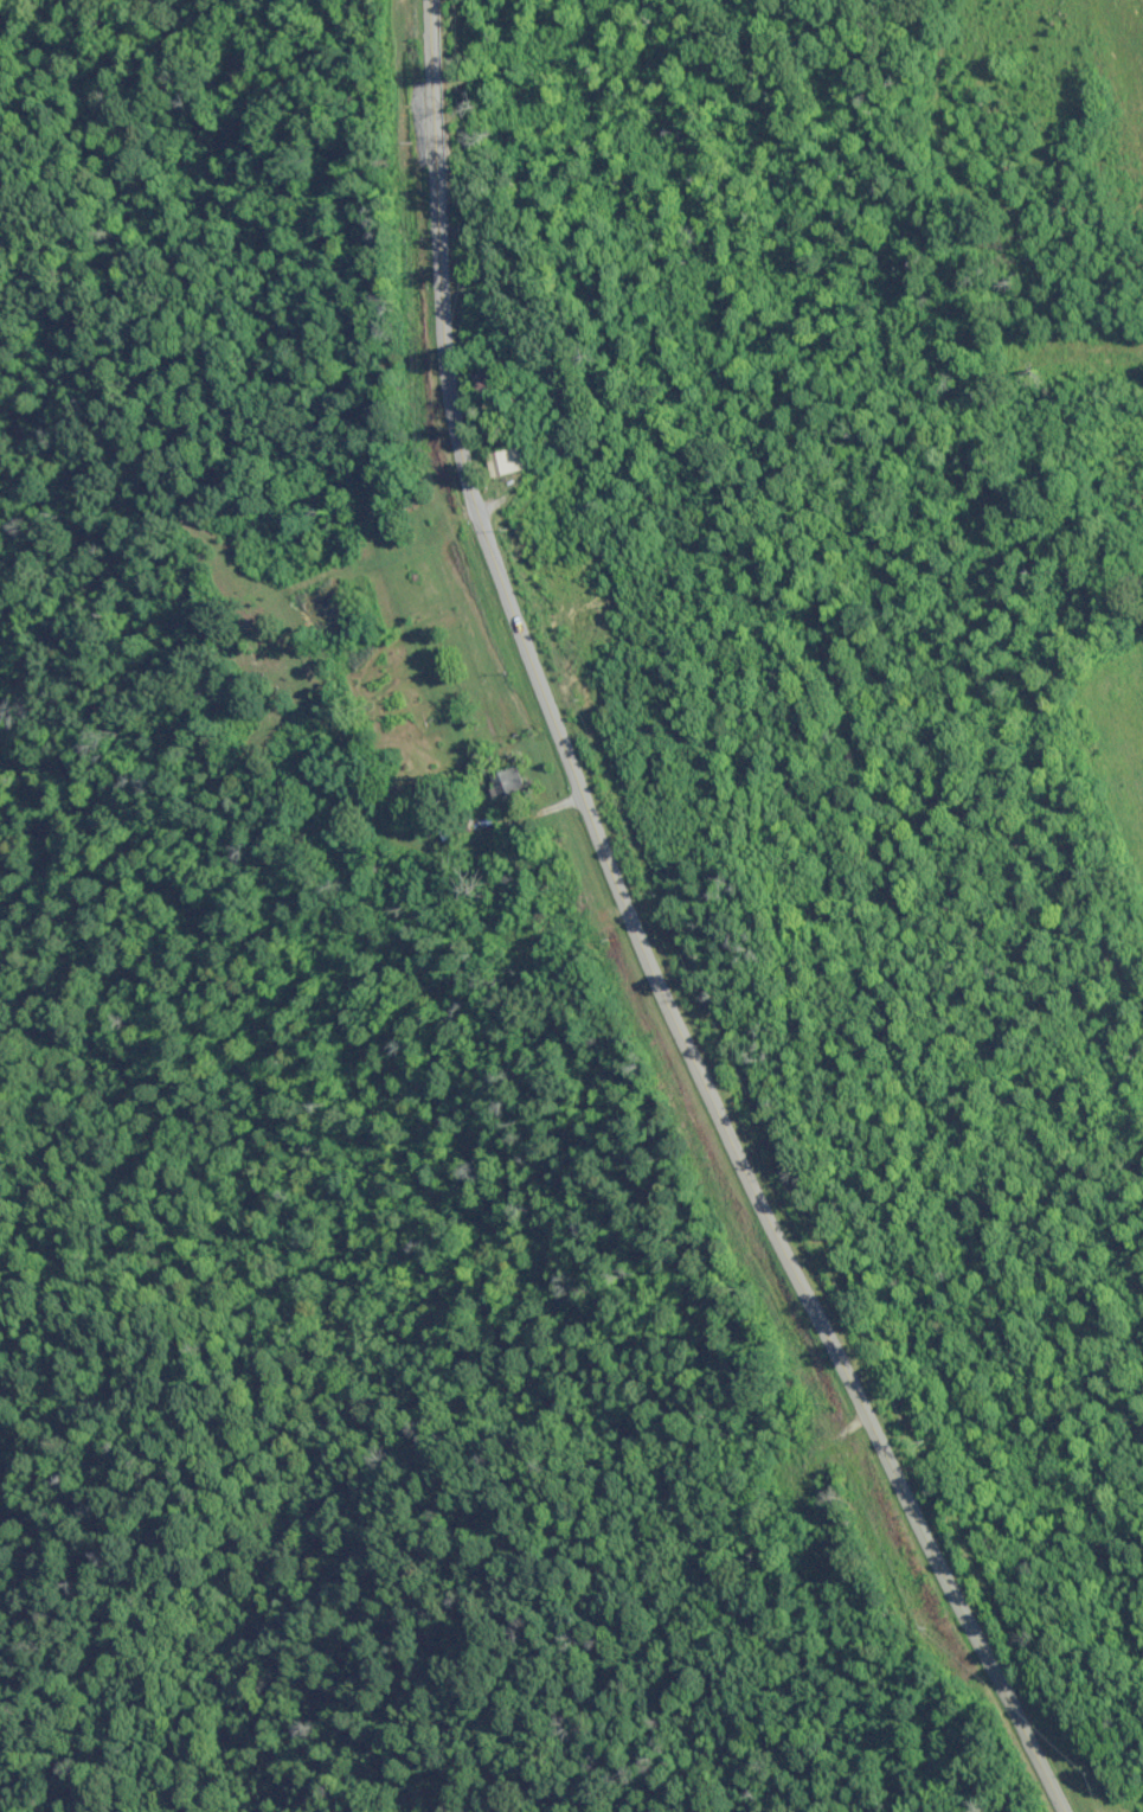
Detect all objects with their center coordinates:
road: (1134, 40)
building: (513, 460)
building: (501, 783)
road: (642, 937)

